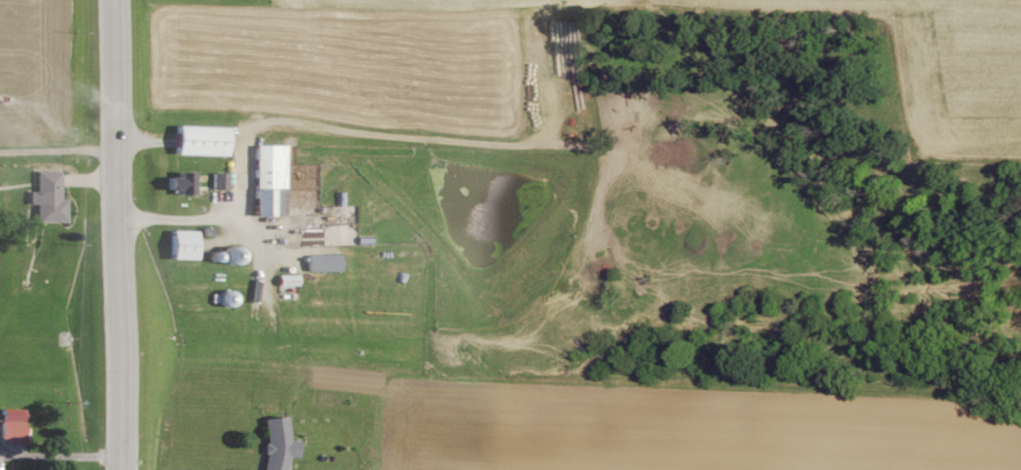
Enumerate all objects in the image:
road: (287, 125)
building: (204, 139)
road: (55, 147)
building: (270, 178)
building: (221, 179)
building: (184, 181)
building: (50, 196)
road: (117, 234)
building: (186, 243)
road: (256, 245)
building: (326, 261)
building: (291, 281)
building: (14, 424)
building: (278, 443)
road: (61, 451)

